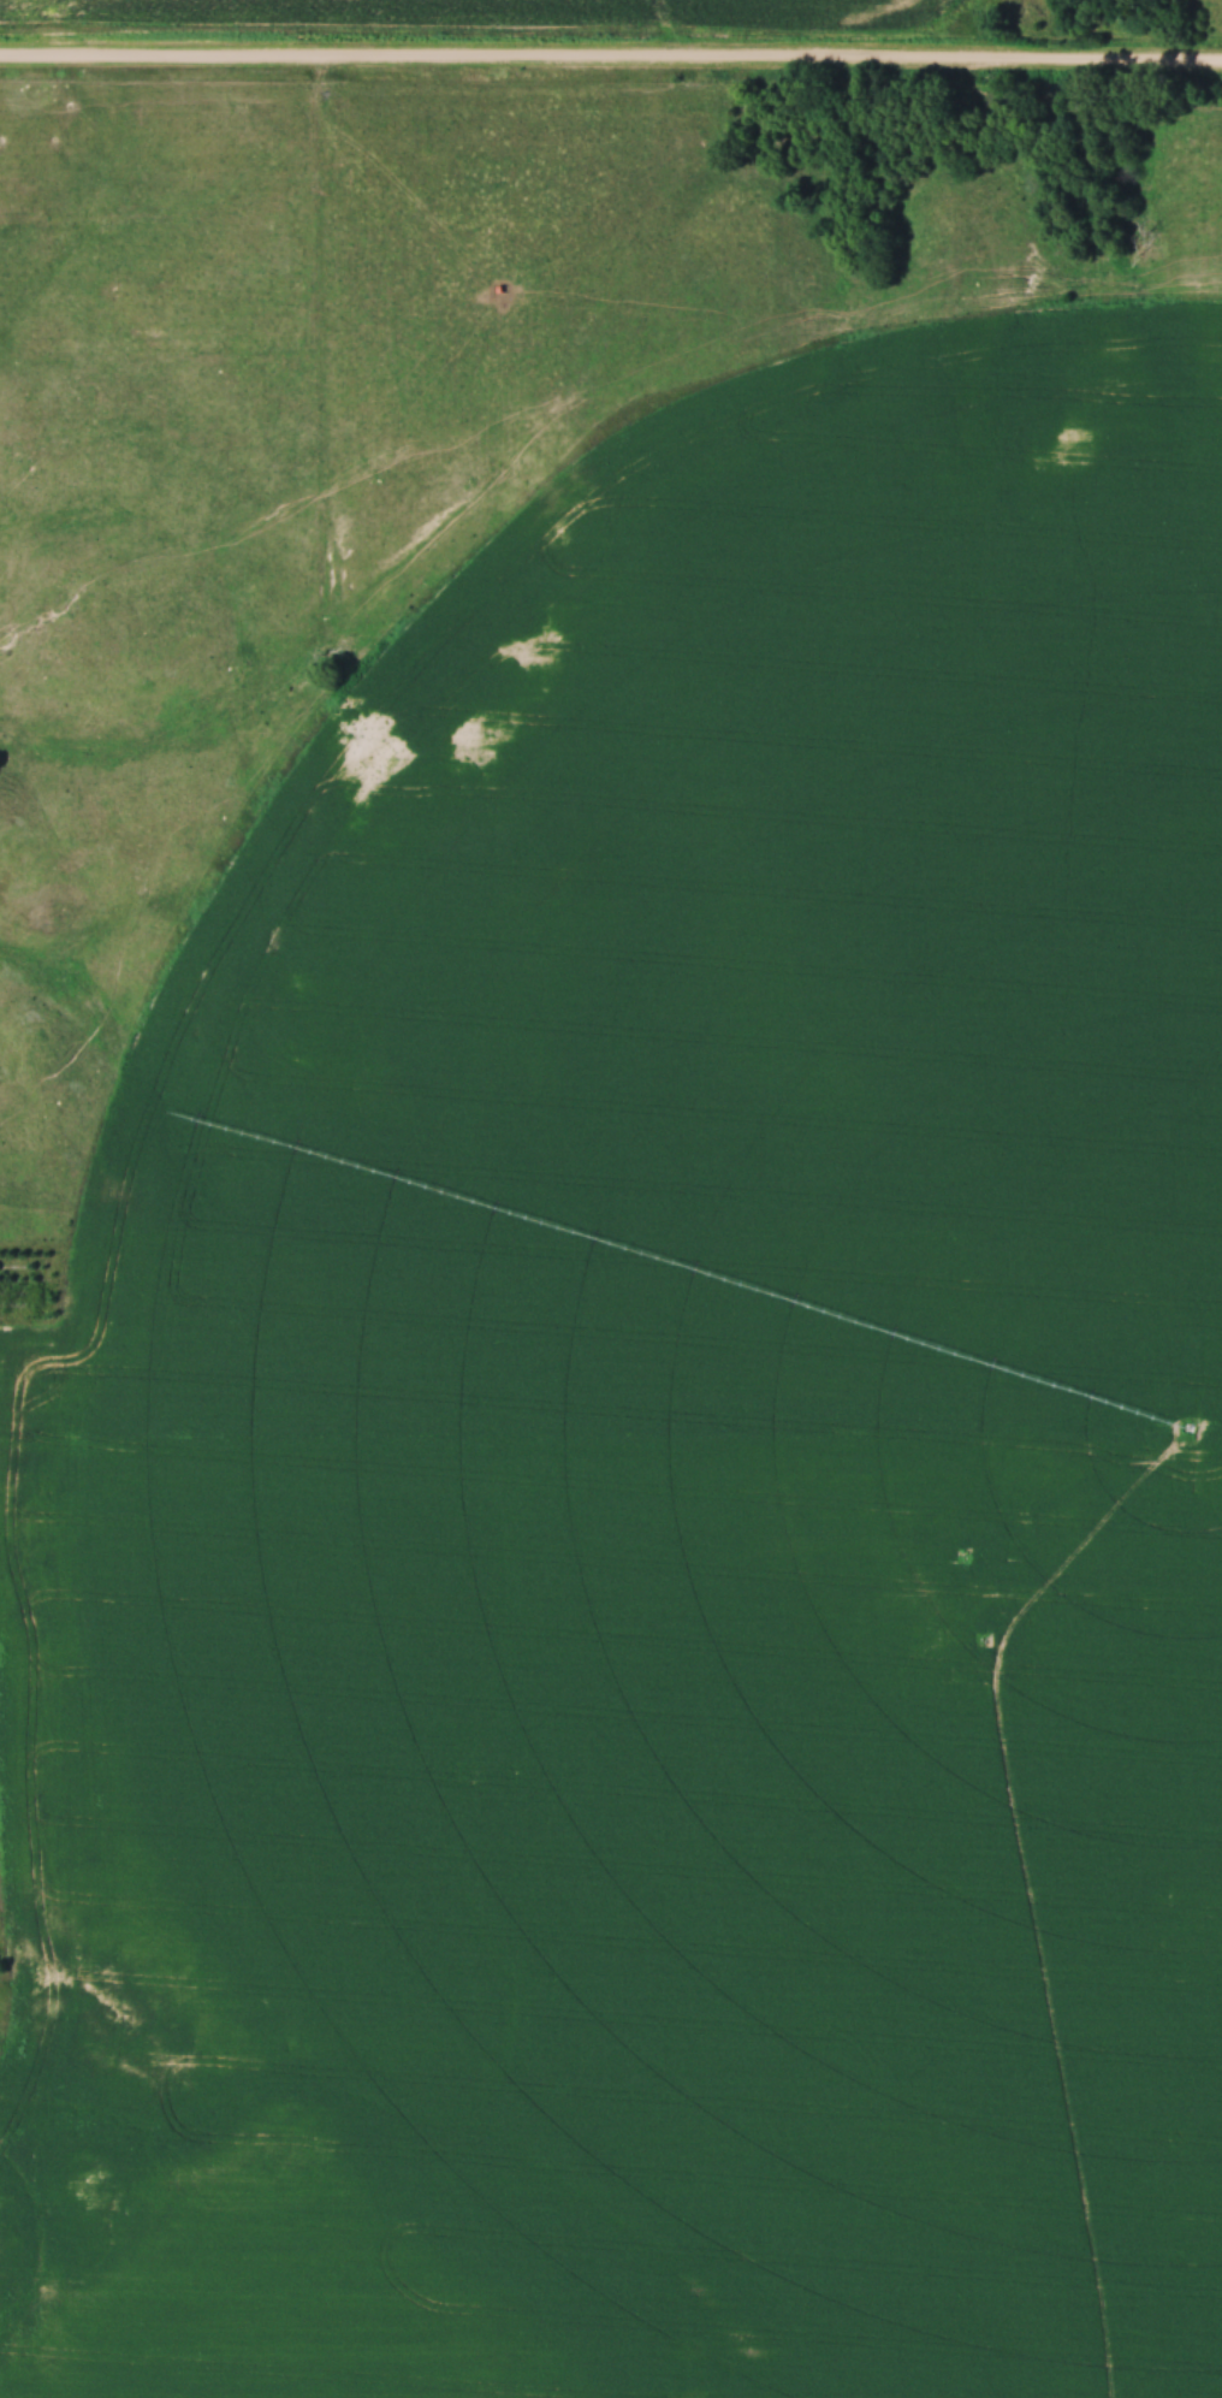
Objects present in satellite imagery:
road: (610, 58)

